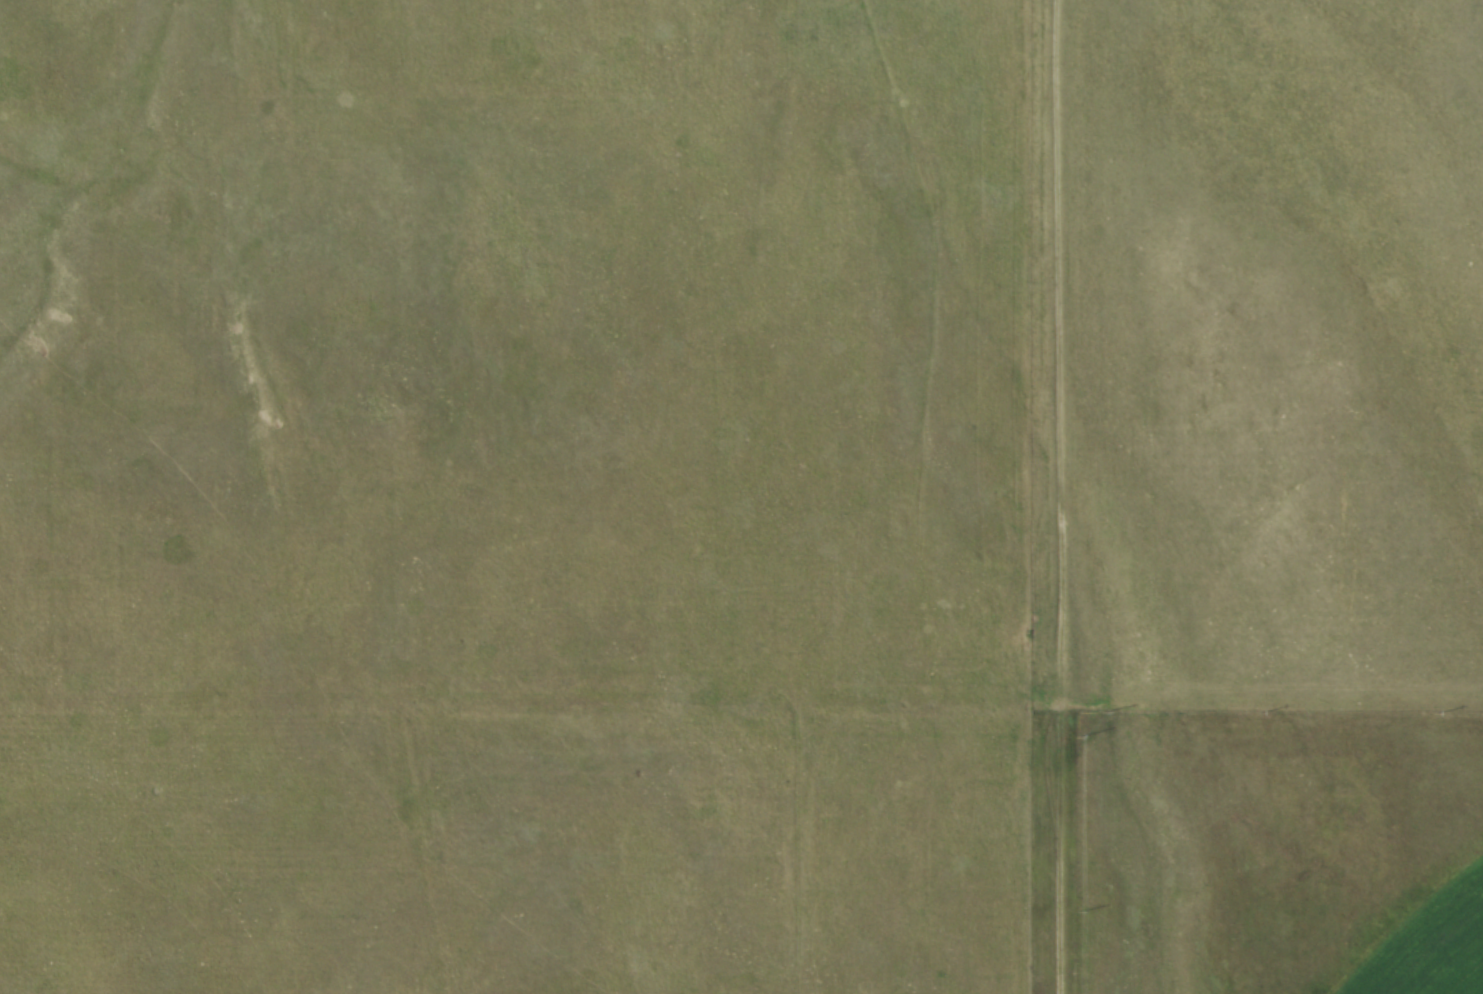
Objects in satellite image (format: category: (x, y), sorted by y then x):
road: (1063, 497)

